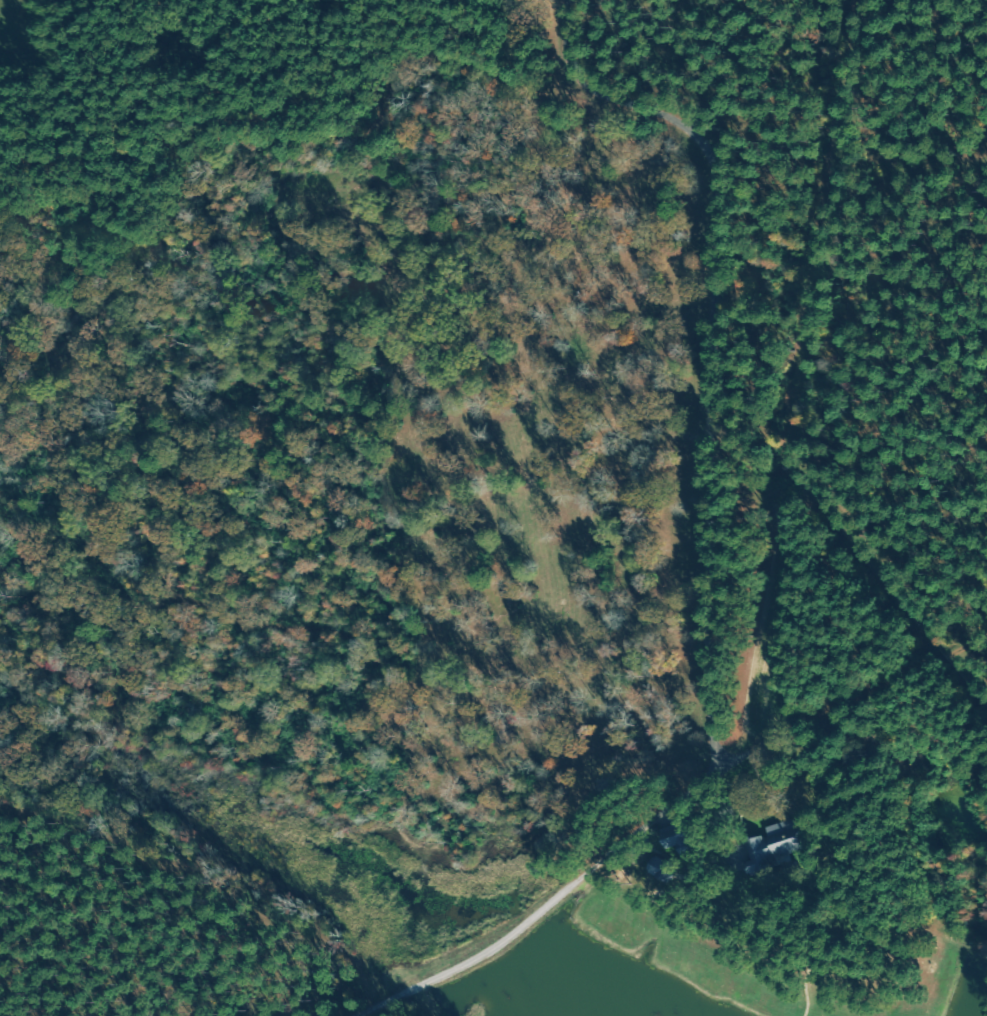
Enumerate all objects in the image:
road: (479, 8)
road: (683, 788)
building: (688, 840)
building: (778, 846)
building: (666, 870)

